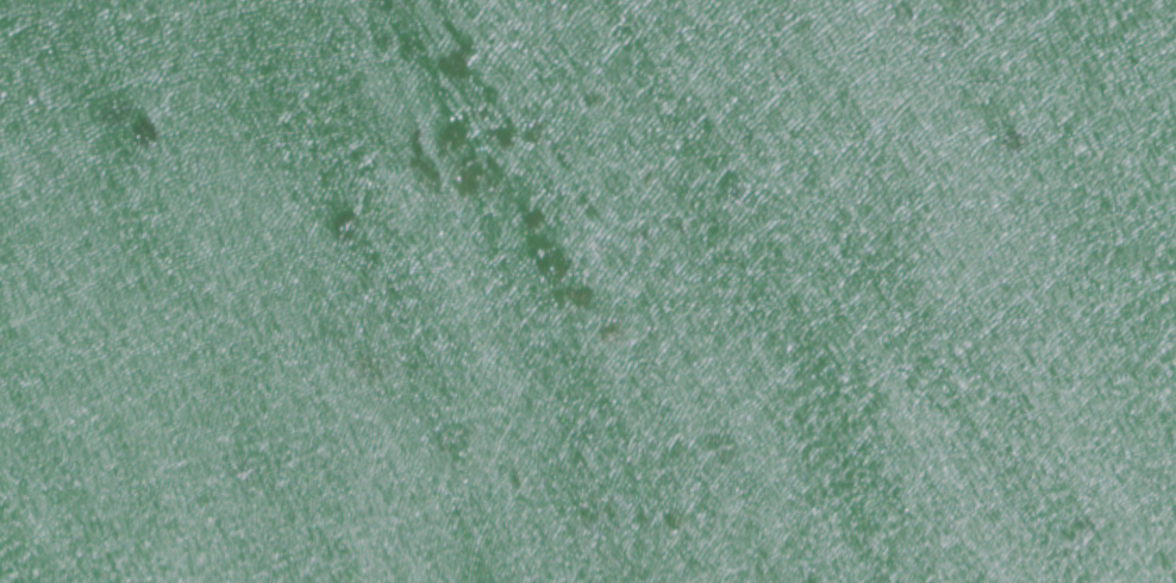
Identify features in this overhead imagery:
wastewater plant: (588, 291)

